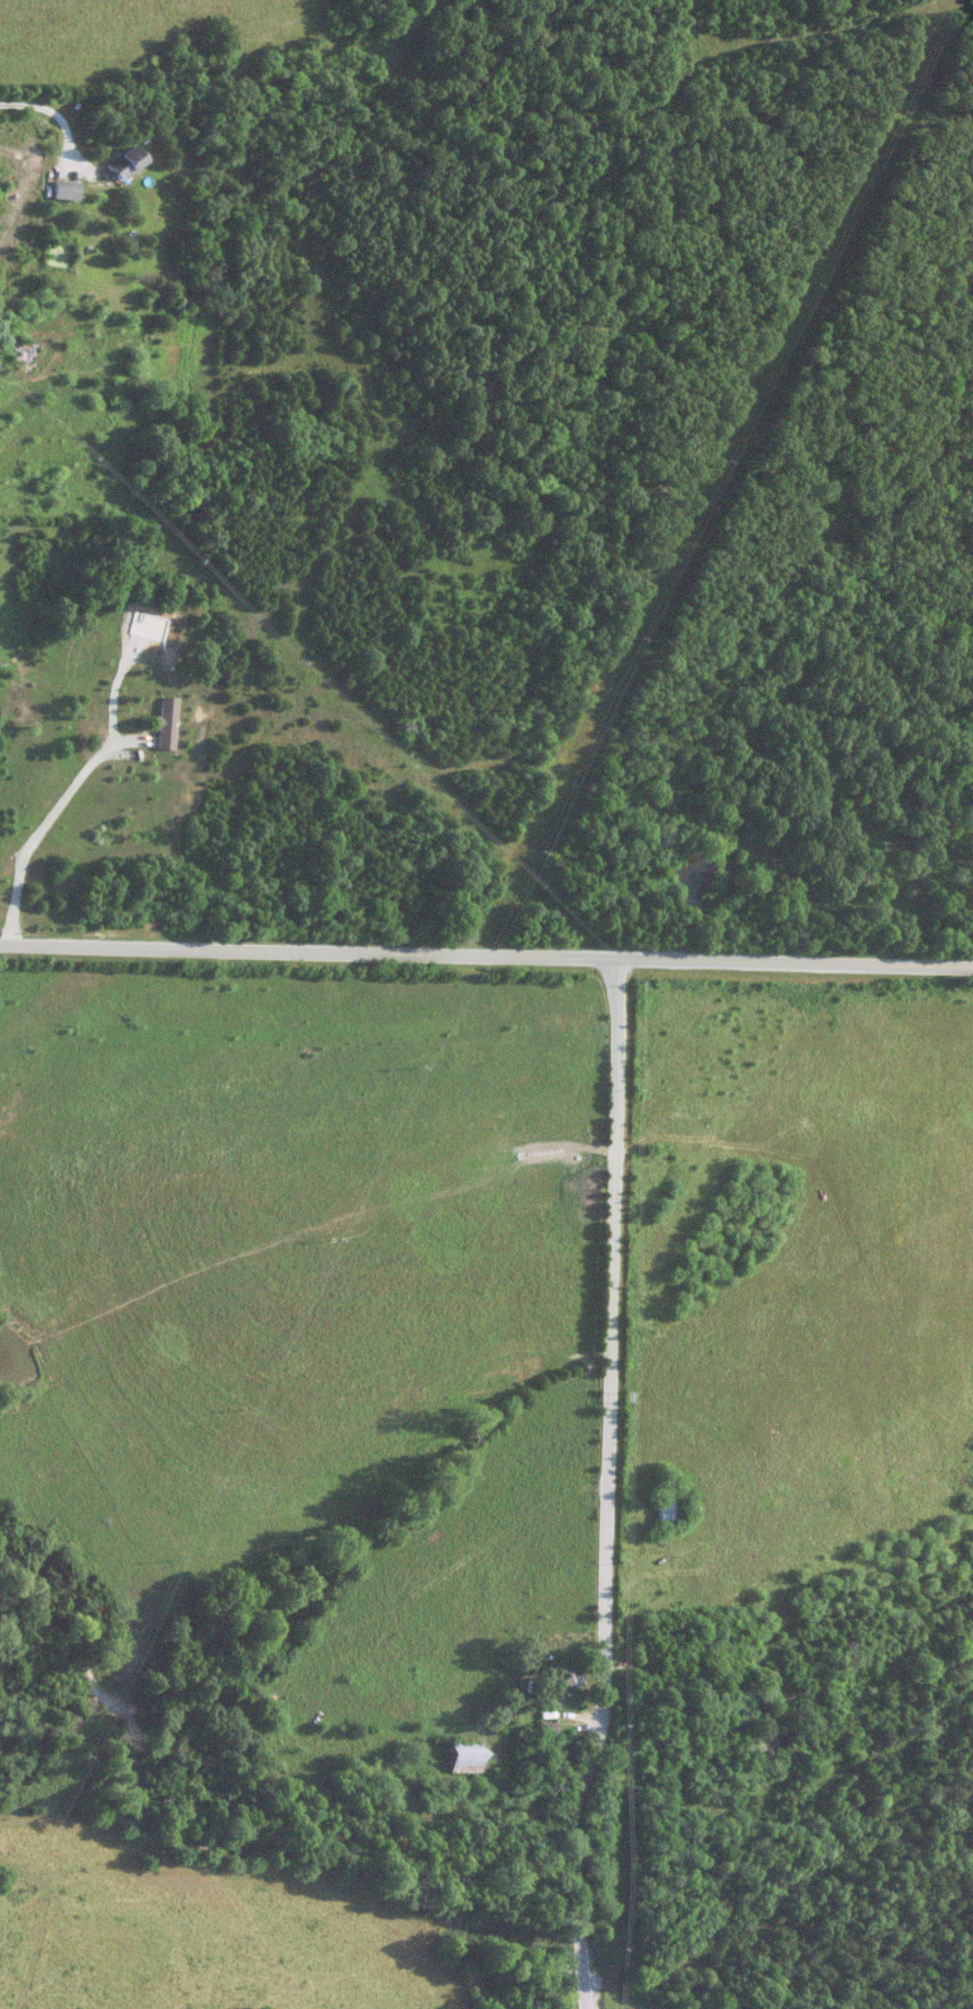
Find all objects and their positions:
road: (48, 111)
building: (116, 163)
building: (57, 191)
building: (165, 723)
road: (38, 821)
road: (486, 959)
road: (608, 1486)
building: (669, 1508)
building: (565, 1675)
building: (460, 1757)

